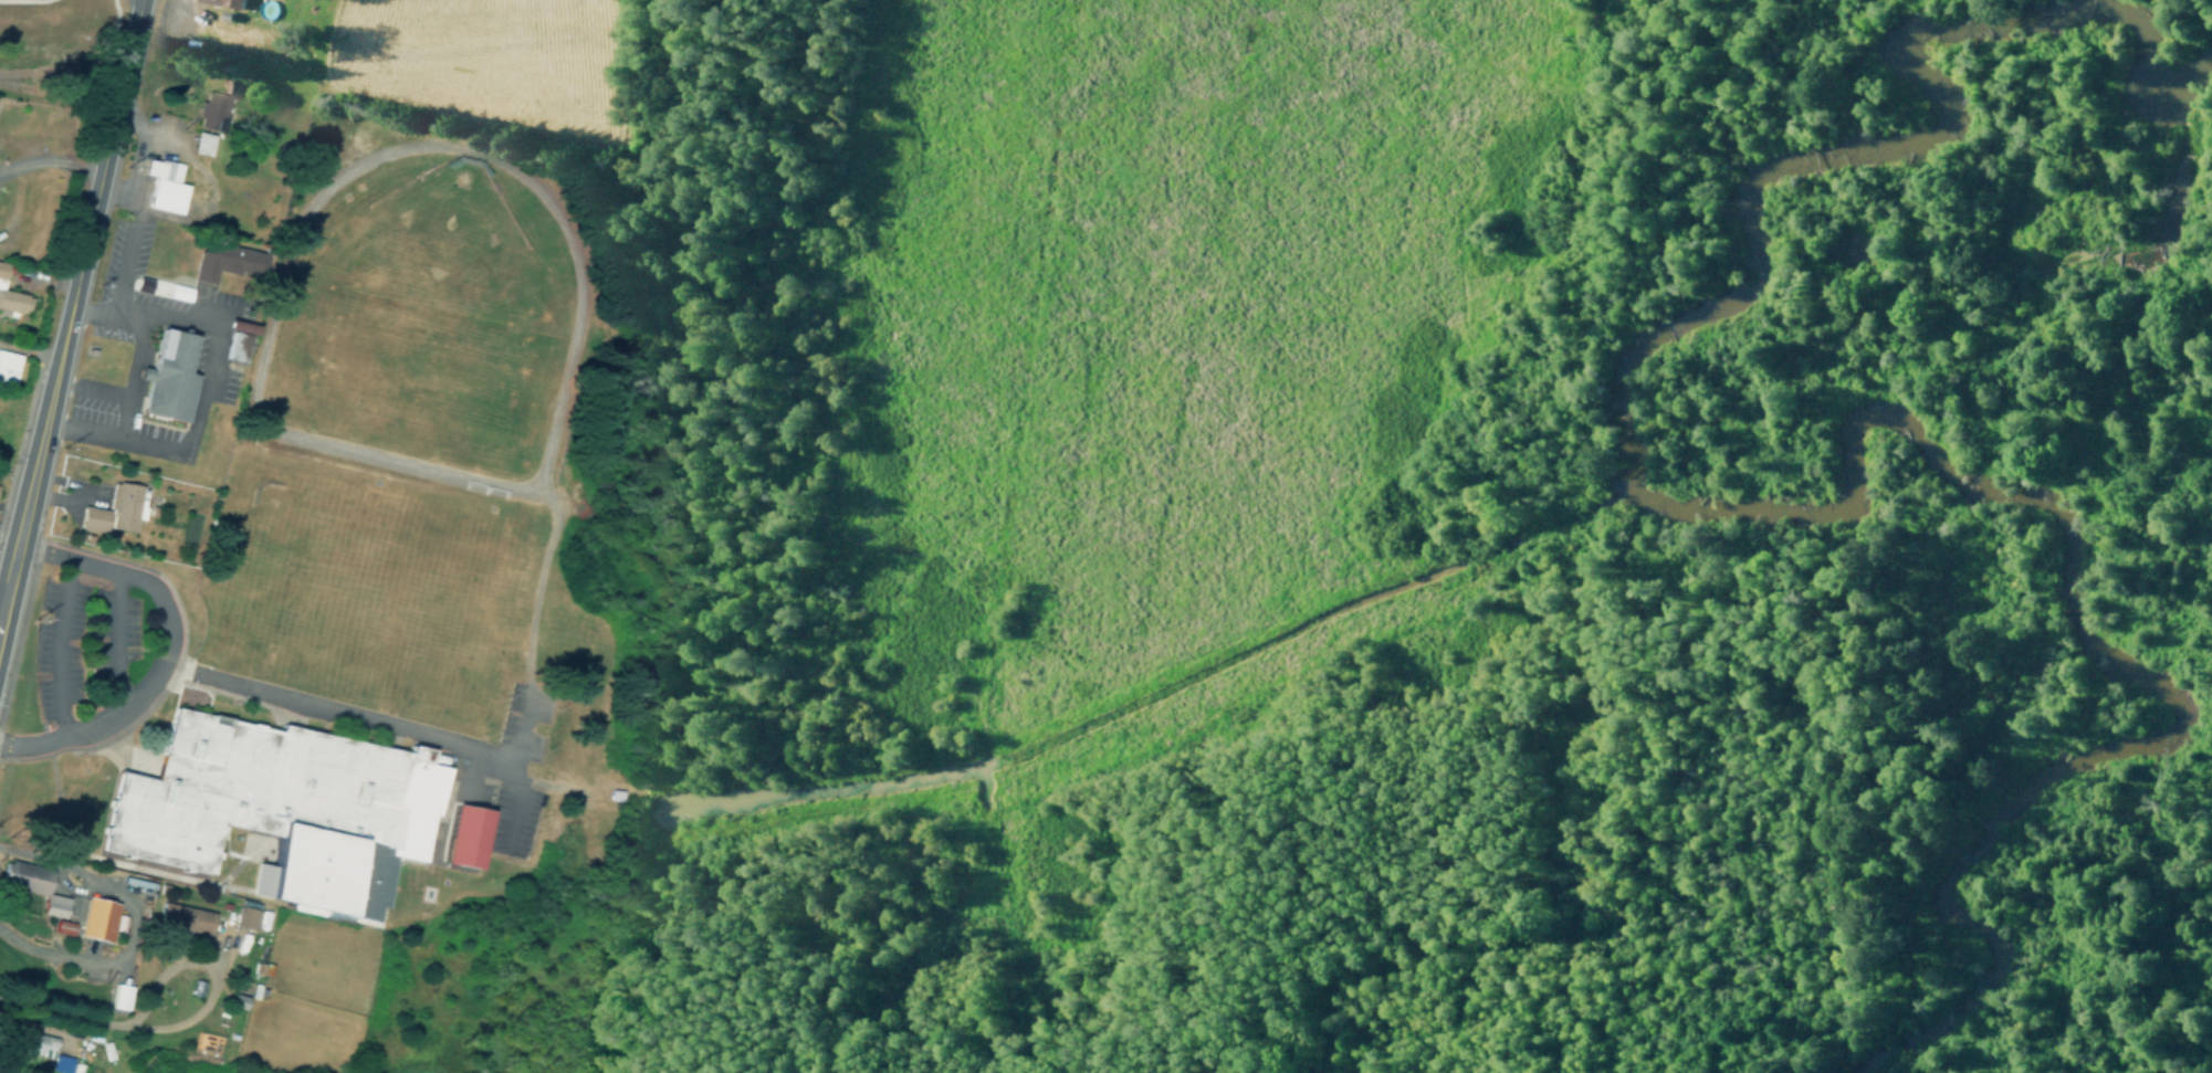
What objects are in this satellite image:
road: (35, 2)
building: (220, 2)
road: (163, 14)
road: (70, 38)
road: (33, 55)
crop: (484, 61)
road: (74, 64)
road: (98, 87)
road: (20, 93)
building: (212, 114)
road: (158, 140)
road: (7, 141)
road: (61, 141)
road: (7, 154)
road: (581, 154)
road: (50, 157)
building: (163, 183)
road: (15, 191)
road: (126, 236)
road: (564, 252)
building: (223, 261)
road: (272, 264)
road: (274, 295)
building: (11, 297)
road: (69, 304)
road: (43, 335)
building: (237, 345)
building: (7, 365)
road: (70, 370)
building: (167, 375)
road: (206, 382)
road: (128, 389)
road: (122, 419)
road: (354, 469)
road: (137, 471)
road: (542, 485)
road: (532, 486)
road: (80, 492)
building: (123, 505)
road: (179, 515)
building: (90, 517)
road: (1864, 540)
road: (118, 550)
road: (43, 551)
road: (128, 578)
park: (370, 592)
road: (30, 639)
road: (113, 642)
parking lot: (99, 645)
road: (87, 646)
road: (176, 670)
road: (230, 672)
road: (18, 674)
road: (198, 686)
road: (374, 720)
road: (106, 725)
road: (564, 727)
road: (32, 743)
road: (431, 743)
road: (106, 745)
road: (65, 749)
road: (132, 749)
road: (515, 756)
road: (149, 759)
road: (132, 764)
parking lot: (511, 770)
road: (520, 797)
road: (468, 798)
building: (285, 809)
road: (1110, 809)
building: (465, 837)
road: (128, 862)
road: (1562, 863)
building: (15, 873)
building: (71, 906)
road: (109, 906)
building: (247, 913)
building: (97, 919)
building: (184, 919)
building: (234, 937)
road: (213, 969)
road: (902, 982)
building: (118, 997)
road: (56, 1011)
building: (38, 1043)
building: (52, 1060)
building: (64, 1064)

